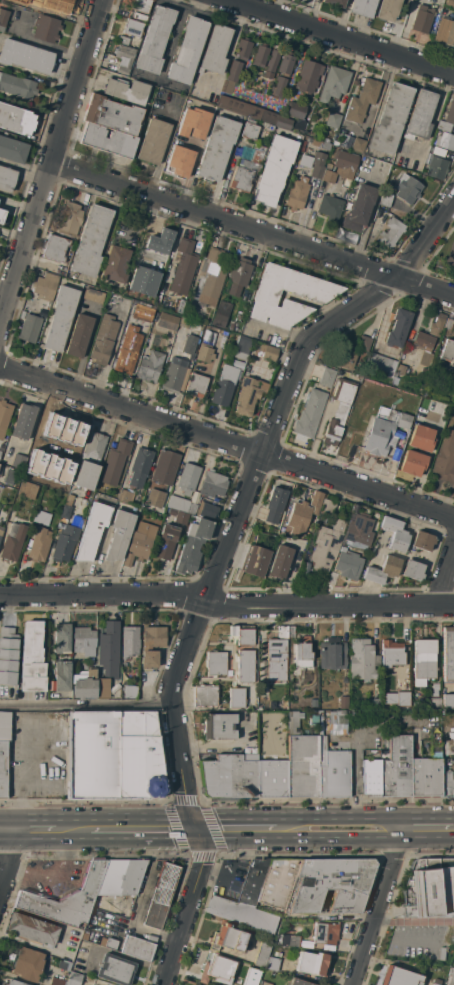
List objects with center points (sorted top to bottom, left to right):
building: (18, 2)
building: (334, 2)
building: (55, 3)
building: (450, 3)
building: (138, 5)
building: (363, 7)
building: (388, 9)
building: (139, 16)
building: (3, 19)
building: (422, 19)
building: (132, 27)
building: (46, 28)
building: (445, 32)
road: (342, 37)
building: (154, 39)
building: (123, 40)
building: (242, 49)
building: (187, 50)
building: (215, 50)
building: (25, 56)
building: (260, 56)
building: (124, 58)
building: (271, 64)
building: (286, 64)
building: (234, 71)
building: (308, 76)
building: (333, 84)
building: (17, 86)
building: (278, 87)
building: (125, 90)
building: (265, 99)
building: (362, 100)
building: (233, 105)
building: (296, 110)
building: (255, 113)
building: (420, 115)
building: (269, 117)
building: (447, 117)
building: (16, 119)
building: (390, 119)
building: (333, 120)
building: (192, 123)
building: (284, 123)
building: (110, 126)
building: (250, 131)
building: (444, 140)
building: (153, 141)
building: (346, 141)
building: (324, 144)
building: (358, 145)
building: (217, 148)
building: (12, 150)
building: (179, 151)
building: (438, 151)
building: (345, 163)
building: (329, 165)
road: (52, 166)
building: (437, 168)
building: (247, 170)
building: (274, 170)
building: (318, 170)
building: (329, 176)
building: (7, 178)
building: (407, 188)
building: (297, 194)
building: (384, 201)
building: (0, 202)
building: (0, 206)
building: (330, 208)
building: (359, 208)
building: (1, 214)
building: (70, 219)
building: (379, 220)
road: (253, 230)
building: (390, 233)
building: (90, 241)
building: (155, 243)
building: (55, 248)
building: (450, 255)
building: (115, 264)
building: (183, 266)
building: (134, 275)
building: (239, 275)
building: (210, 278)
building: (151, 284)
road: (7, 286)
building: (45, 286)
building: (138, 290)
building: (93, 295)
building: (316, 295)
building: (46, 306)
building: (179, 307)
building: (142, 313)
building: (221, 314)
building: (60, 318)
building: (167, 321)
building: (448, 324)
building: (29, 328)
building: (398, 328)
building: (430, 333)
building: (79, 335)
building: (191, 336)
building: (103, 340)
building: (364, 342)
building: (242, 348)
building: (128, 350)
building: (448, 352)
building: (205, 353)
building: (270, 353)
building: (344, 357)
building: (427, 358)
building: (383, 363)
building: (150, 366)
building: (401, 369)
building: (175, 375)
building: (327, 377)
building: (196, 385)
building: (224, 385)
building: (419, 391)
building: (247, 396)
building: (339, 411)
building: (310, 415)
building: (4, 417)
building: (453, 419)
building: (23, 421)
building: (403, 421)
building: (380, 431)
building: (47, 432)
building: (71, 438)
building: (420, 438)
road: (227, 442)
building: (0, 452)
building: (445, 458)
building: (18, 461)
building: (90, 461)
building: (115, 462)
building: (412, 463)
building: (140, 467)
building: (165, 467)
building: (61, 470)
building: (40, 475)
building: (9, 476)
building: (54, 483)
building: (27, 489)
building: (212, 489)
building: (126, 496)
building: (69, 498)
building: (155, 498)
building: (315, 501)
building: (178, 503)
building: (275, 504)
building: (1, 506)
building: (327, 506)
building: (207, 510)
building: (65, 512)
building: (42, 517)
building: (181, 517)
building: (297, 519)
building: (358, 527)
building: (1, 530)
building: (92, 531)
building: (119, 533)
building: (394, 533)
building: (66, 540)
building: (13, 541)
building: (422, 541)
building: (140, 542)
building: (166, 542)
building: (39, 544)
building: (193, 546)
building: (325, 546)
building: (255, 561)
building: (279, 562)
road: (222, 563)
building: (347, 564)
building: (382, 570)
building: (412, 570)
building: (332, 578)
road: (447, 584)
road: (225, 606)
building: (282, 632)
building: (291, 632)
building: (242, 634)
building: (62, 638)
building: (84, 640)
building: (130, 641)
building: (152, 645)
building: (332, 653)
building: (448, 653)
building: (8, 655)
building: (302, 655)
building: (391, 655)
building: (108, 656)
building: (32, 658)
building: (362, 659)
building: (275, 660)
building: (424, 661)
building: (215, 663)
building: (245, 666)
building: (62, 675)
building: (85, 684)
building: (129, 688)
building: (435, 688)
building: (402, 694)
building: (204, 696)
building: (236, 698)
building: (448, 700)
building: (343, 702)
building: (369, 702)
building: (434, 703)
road: (87, 708)
building: (313, 720)
building: (337, 724)
building: (218, 726)
building: (436, 742)
building: (3, 752)
building: (114, 756)
building: (301, 760)
building: (396, 768)
building: (333, 773)
building: (229, 774)
building: (270, 774)
building: (425, 776)
building: (371, 777)
building: (449, 779)
road: (343, 817)
road: (431, 817)
road: (234, 818)
traffic signals: (193, 826)
road: (142, 828)
road: (6, 830)
road: (34, 830)
road: (73, 830)
road: (323, 835)
road: (9, 865)
building: (121, 876)
building: (278, 883)
building: (330, 885)
building: (429, 888)
building: (161, 895)
building: (66, 898)
building: (245, 900)
road: (381, 901)
road: (346, 916)
road: (414, 920)
building: (32, 929)
building: (325, 934)
building: (228, 938)
building: (294, 940)
road: (406, 940)
building: (110, 943)
building: (137, 948)
building: (262, 953)
building: (26, 963)
building: (312, 963)
building: (272, 964)
building: (64, 965)
building: (115, 969)
building: (218, 969)
building: (252, 976)
building: (451, 976)
building: (399, 977)
building: (73, 978)
building: (57, 981)
building: (299, 982)
building: (13, 983)
building: (264, 983)
building: (92, 984)
building: (194, 984)
building: (196, 984)
building: (430, 984)
building: (434, 984)

